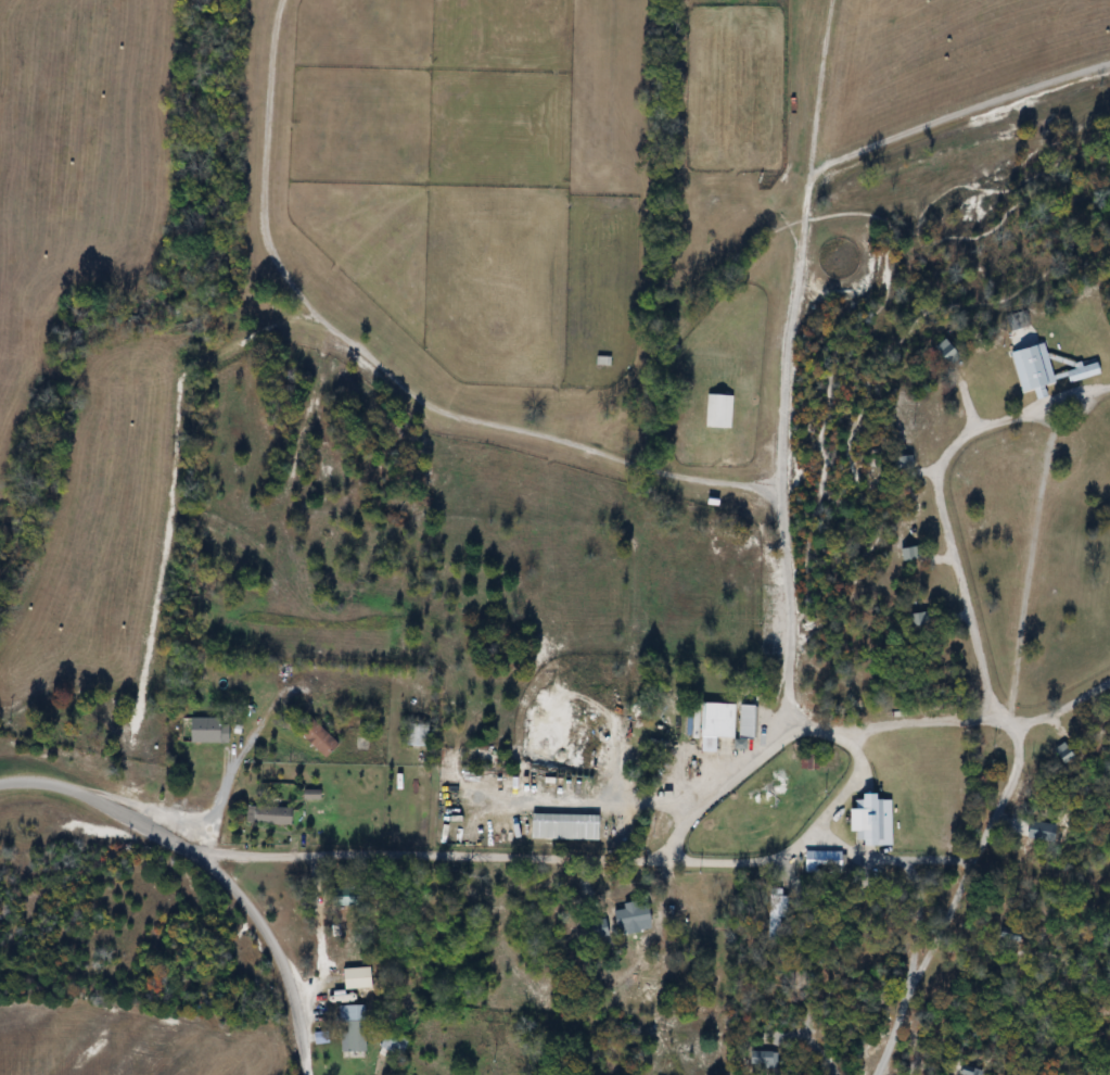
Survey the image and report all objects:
building: (720, 413)
road: (784, 468)
road: (937, 494)
road: (1029, 560)
road: (1063, 707)
building: (730, 721)
building: (212, 730)
building: (421, 735)
building: (321, 738)
building: (809, 761)
road: (856, 769)
road: (229, 784)
road: (1005, 793)
road: (596, 800)
building: (271, 817)
building: (872, 820)
road: (404, 856)
building: (824, 862)
road: (210, 869)
building: (347, 900)
building: (492, 903)
building: (635, 918)
building: (360, 978)
building: (355, 1032)
building: (397, 1044)

